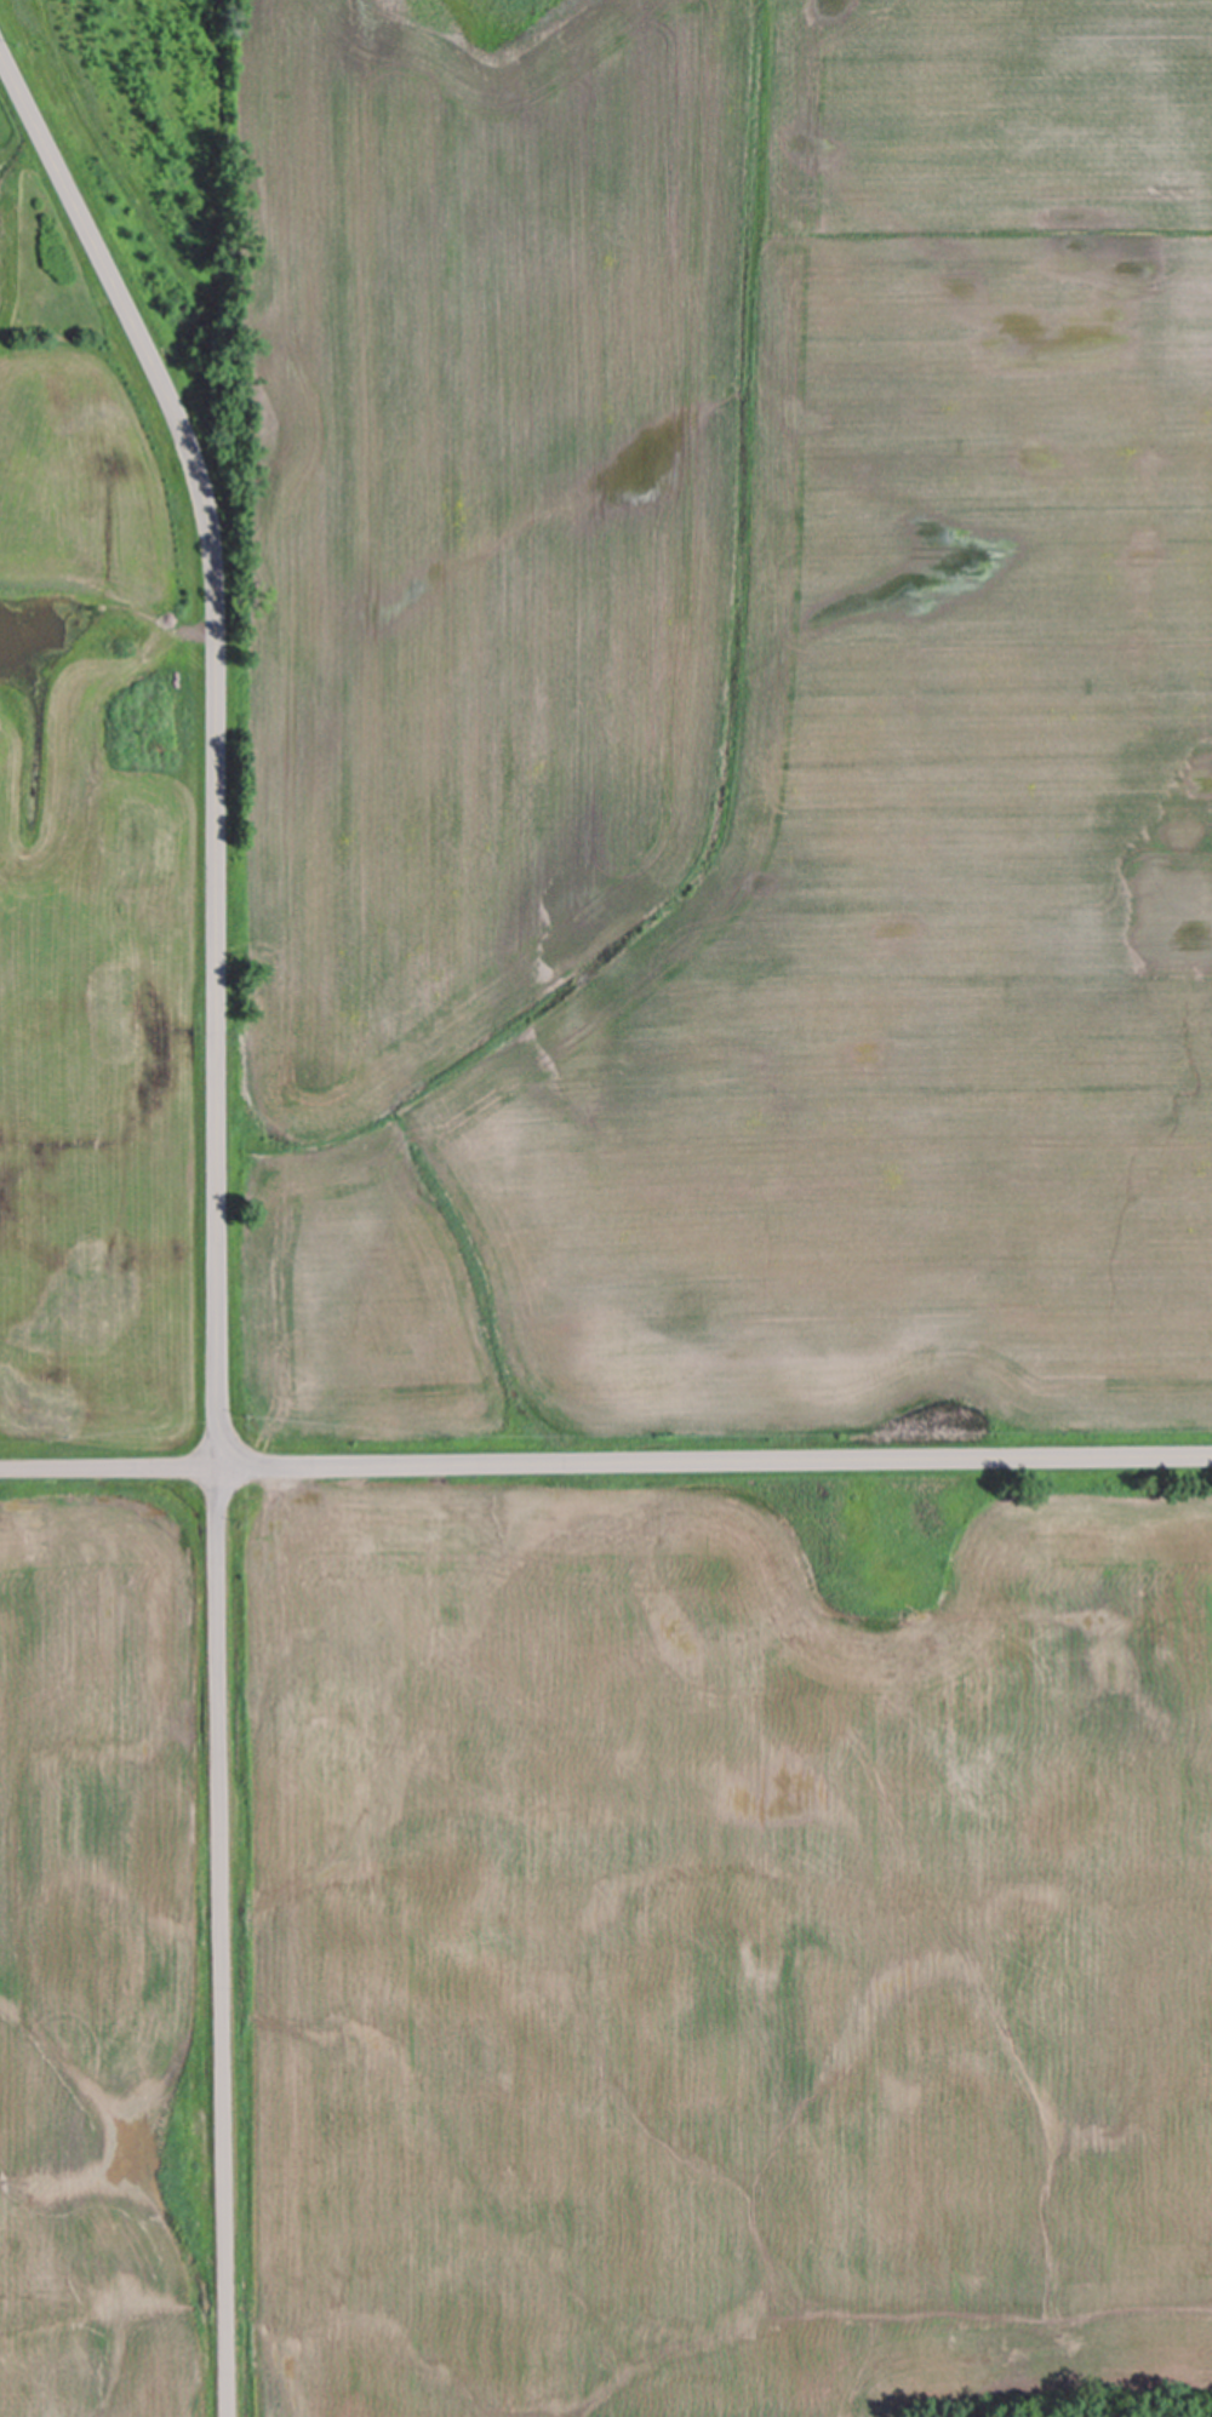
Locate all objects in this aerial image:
road: (213, 750)
road: (713, 1476)
road: (107, 1479)
road: (219, 1948)

